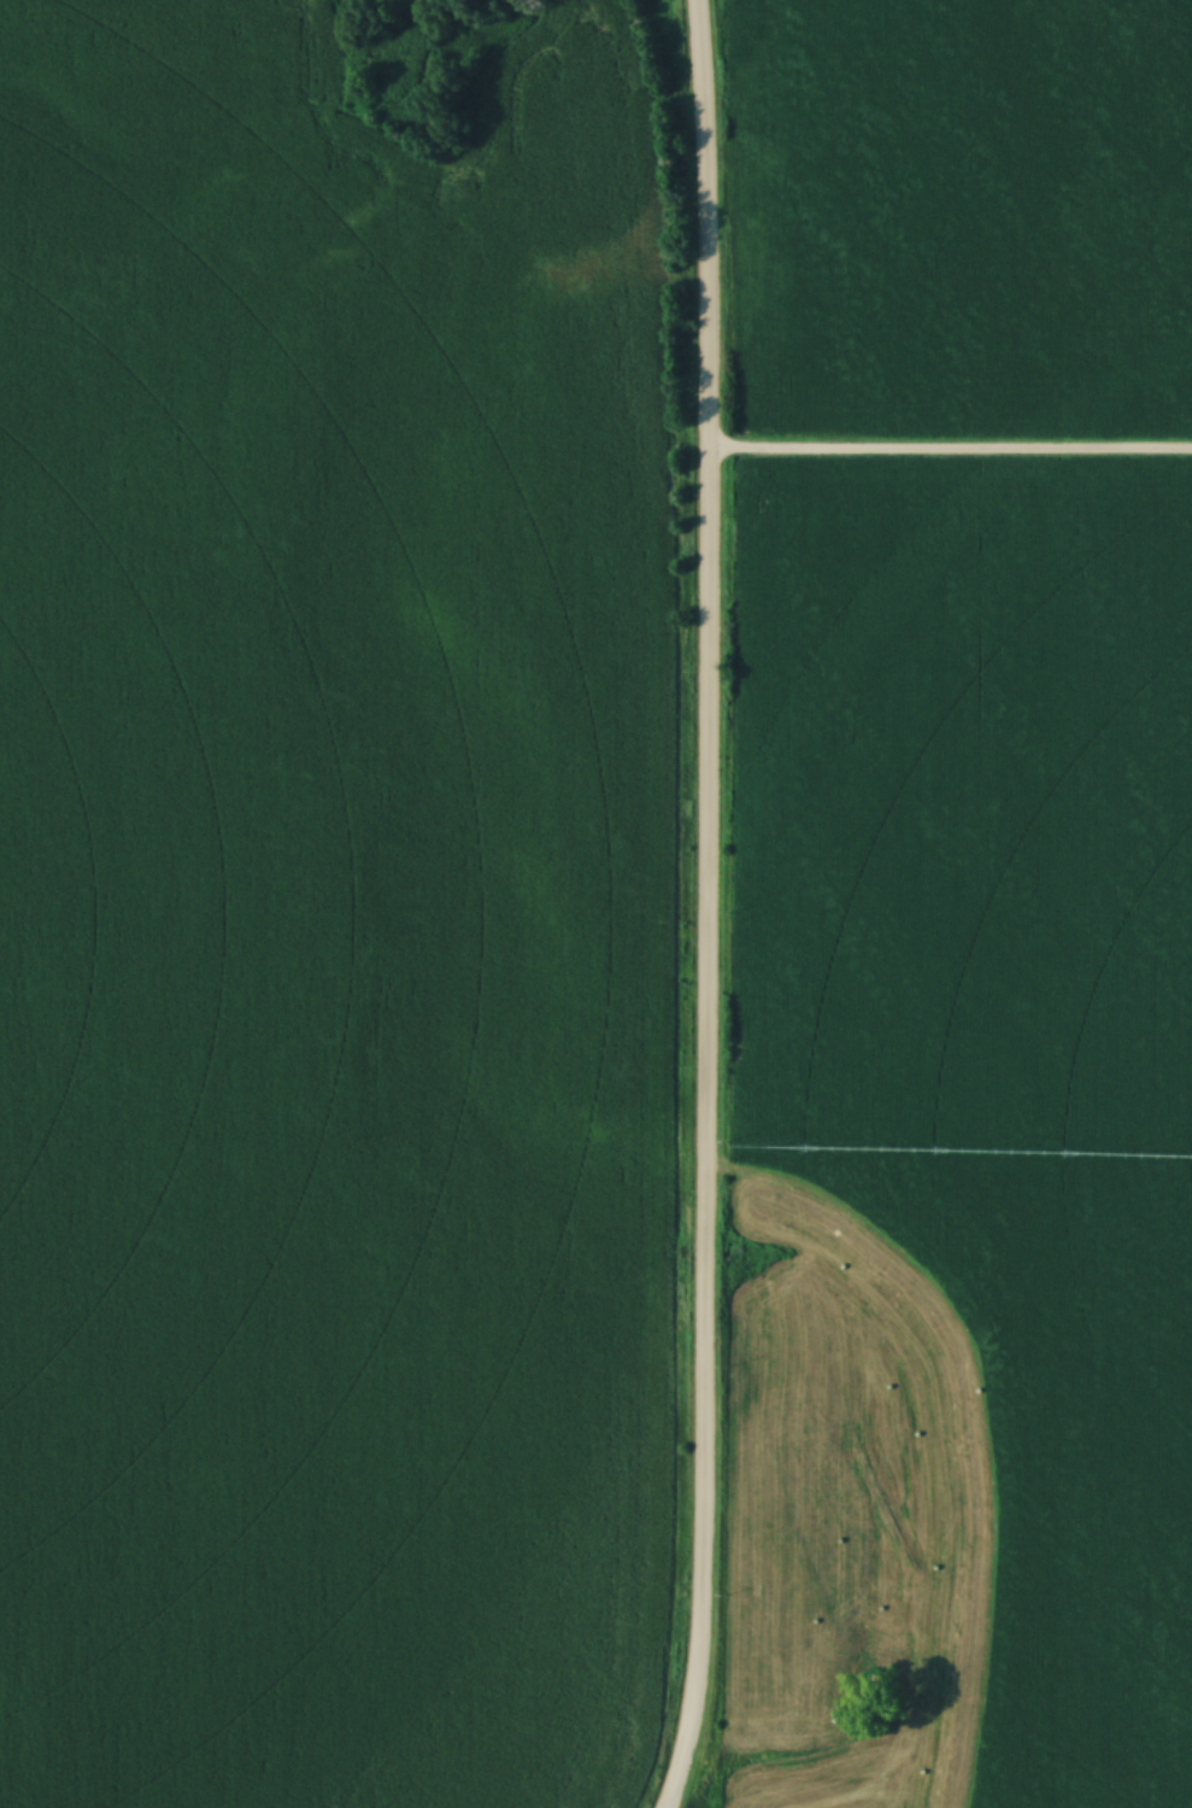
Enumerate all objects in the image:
road: (949, 460)
road: (706, 905)

